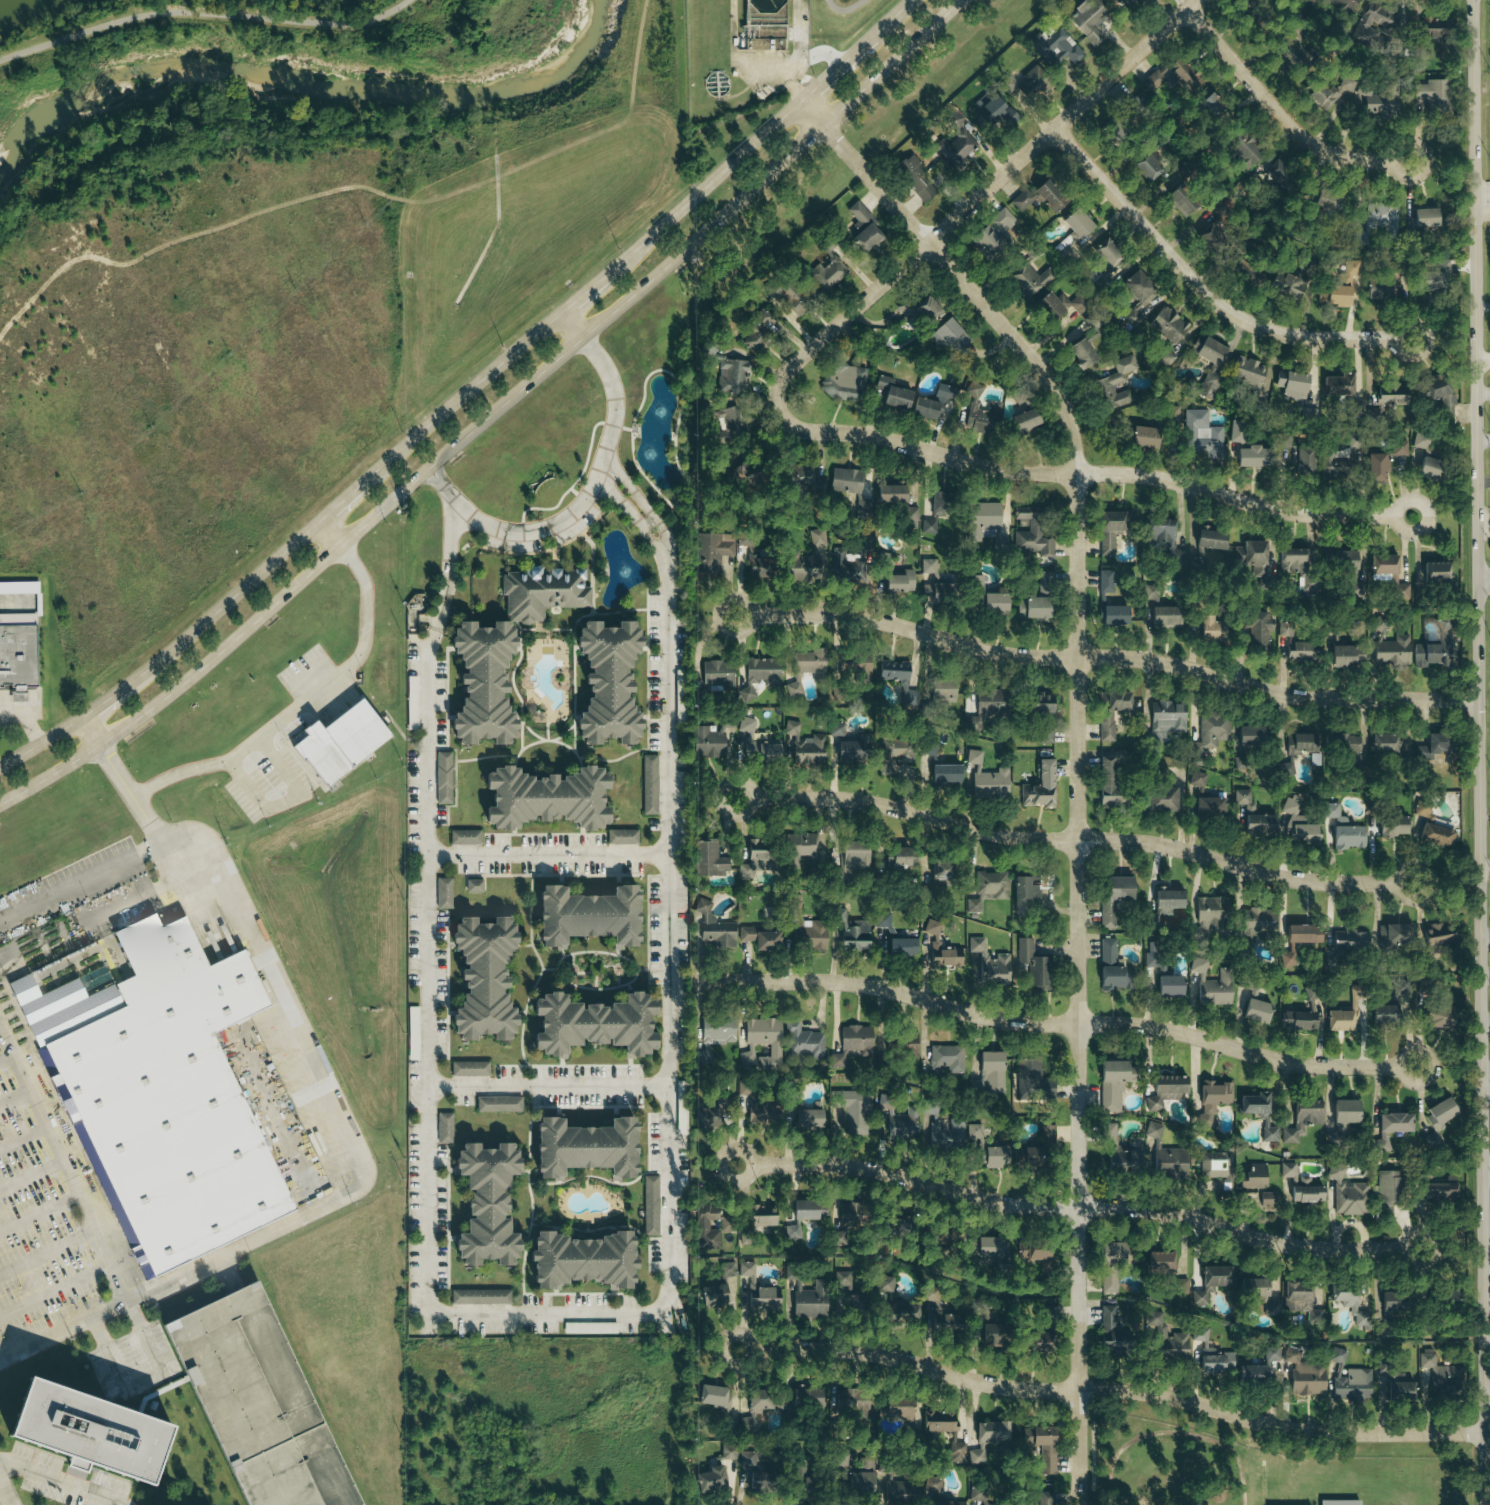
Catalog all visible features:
building: (1313, 1)
building: (1122, 4)
road: (202, 15)
park: (841, 20)
building: (1366, 20)
road: (890, 21)
building: (1086, 21)
building: (1432, 29)
park: (258, 38)
building: (1054, 50)
building: (1291, 50)
road: (777, 64)
road: (833, 71)
building: (1163, 79)
river: (318, 84)
building: (1432, 93)
building: (1322, 96)
building: (992, 98)
building: (1204, 102)
building: (1379, 106)
road: (1281, 116)
building: (954, 147)
building: (1244, 157)
building: (1147, 166)
building: (1189, 170)
building: (1277, 173)
building: (912, 178)
road: (707, 183)
building: (1039, 197)
building: (1178, 201)
building: (1326, 201)
road: (1483, 201)
road: (972, 202)
building: (1379, 218)
building: (1423, 218)
building: (1074, 224)
building: (1211, 226)
building: (861, 229)
building: (993, 233)
building: (1104, 253)
building: (1110, 272)
building: (827, 276)
building: (1432, 276)
building: (1291, 277)
building: (1338, 285)
building: (1378, 288)
building: (1040, 289)
road: (587, 290)
road: (1203, 291)
building: (790, 297)
building: (917, 308)
building: (1133, 309)
building: (756, 328)
building: (944, 334)
building: (1205, 348)
building: (1079, 352)
building: (1164, 358)
road: (1483, 360)
building: (1245, 372)
building: (730, 376)
building: (843, 381)
building: (1115, 383)
building: (1336, 383)
building: (1290, 384)
building: (1207, 385)
road: (1483, 390)
building: (1435, 393)
building: (889, 394)
building: (1388, 394)
building: (924, 408)
road: (489, 413)
building: (726, 419)
building: (1021, 421)
building: (1233, 430)
building: (1136, 432)
building: (1200, 435)
building: (1419, 439)
road: (1484, 442)
building: (1254, 456)
building: (1381, 459)
building: (1318, 463)
building: (1428, 468)
building: (796, 472)
road: (1097, 473)
road: (1484, 477)
road: (586, 491)
building: (889, 493)
road: (346, 497)
building: (934, 510)
building: (910, 518)
building: (987, 521)
road: (1484, 524)
building: (1111, 528)
building: (1030, 532)
road: (326, 535)
building: (1162, 539)
building: (862, 543)
building: (711, 551)
building: (804, 560)
building: (1254, 560)
building: (1292, 560)
building: (1342, 561)
building: (755, 564)
building: (1382, 564)
building: (842, 565)
building: (926, 565)
building: (1434, 571)
road: (1484, 579)
building: (898, 580)
building: (1104, 581)
building: (1044, 582)
building: (18, 587)
building: (1402, 591)
building: (541, 592)
building: (1150, 592)
road: (15, 601)
building: (992, 601)
building: (1032, 608)
building: (1116, 614)
building: (1163, 616)
building: (1205, 628)
building: (1259, 630)
building: (1433, 647)
building: (1301, 650)
building: (1337, 652)
building: (1391, 652)
building: (19, 655)
road: (1107, 656)
building: (809, 662)
building: (891, 670)
building: (762, 671)
building: (715, 675)
building: (478, 683)
building: (602, 684)
building: (939, 689)
building: (989, 701)
road: (300, 702)
building: (1038, 702)
road: (107, 703)
road: (32, 711)
building: (1110, 711)
road: (29, 718)
building: (1164, 719)
building: (745, 724)
building: (835, 729)
building: (1212, 729)
building: (1046, 732)
building: (1248, 735)
building: (709, 738)
building: (333, 741)
building: (1382, 742)
building: (1296, 745)
building: (801, 746)
building: (851, 747)
building: (928, 748)
building: (759, 749)
road: (41, 751)
road: (1077, 752)
road: (1479, 752)
building: (892, 754)
building: (943, 774)
building: (442, 778)
building: (985, 779)
road: (120, 781)
building: (1106, 781)
building: (1195, 783)
building: (648, 784)
building: (1038, 787)
building: (540, 796)
building: (1159, 799)
building: (1421, 808)
building: (1207, 809)
building: (1252, 815)
building: (1297, 824)
building: (1391, 825)
building: (1342, 829)
building: (1434, 835)
building: (621, 836)
building: (464, 837)
road: (1075, 839)
road: (546, 854)
building: (852, 857)
building: (706, 859)
building: (898, 859)
building: (754, 863)
road: (1484, 865)
building: (939, 868)
road: (85, 880)
building: (989, 883)
building: (472, 886)
building: (1027, 890)
building: (442, 893)
building: (1112, 899)
building: (972, 905)
building: (1162, 905)
building: (1210, 915)
building: (579, 916)
building: (1256, 920)
building: (712, 926)
building: (851, 932)
building: (807, 934)
building: (1300, 934)
building: (1437, 934)
building: (1392, 935)
road: (1485, 936)
building: (895, 937)
building: (758, 938)
building: (933, 941)
building: (1348, 941)
building: (1106, 951)
building: (1153, 956)
building: (1286, 956)
building: (988, 960)
building: (1032, 964)
building: (1197, 965)
building: (477, 977)
building: (1114, 978)
building: (1168, 985)
building: (1400, 987)
building: (1212, 988)
building: (1354, 991)
building: (1255, 1011)
building: (1382, 1014)
building: (1437, 1018)
building: (1297, 1020)
building: (1340, 1020)
road: (1056, 1022)
building: (589, 1026)
building: (713, 1035)
building: (801, 1041)
building: (851, 1043)
building: (760, 1044)
building: (908, 1045)
road: (8, 1047)
building: (946, 1058)
building: (468, 1068)
road: (315, 1071)
building: (987, 1074)
building: (1032, 1079)
road: (546, 1085)
building: (1109, 1085)
road: (1486, 1088)
building: (1163, 1091)
building: (1214, 1093)
road: (15, 1097)
building: (170, 1102)
building: (1252, 1102)
building: (497, 1104)
building: (852, 1107)
building: (1344, 1111)
building: (710, 1112)
building: (763, 1112)
building: (805, 1118)
building: (1203, 1119)
building: (1301, 1119)
building: (1393, 1122)
building: (1437, 1123)
building: (900, 1127)
building: (443, 1128)
building: (941, 1129)
building: (1152, 1130)
building: (1267, 1131)
building: (1045, 1133)
road: (24, 1136)
building: (1381, 1141)
building: (578, 1146)
building: (1119, 1152)
building: (1024, 1155)
building: (994, 1156)
building: (1169, 1163)
building: (1214, 1165)
road: (1486, 1165)
building: (1287, 1169)
road: (31, 1172)
building: (1251, 1177)
building: (1439, 1188)
building: (1303, 1190)
building: (1388, 1193)
building: (1347, 1194)
building: (1261, 1200)
building: (483, 1202)
building: (649, 1205)
road: (1067, 1206)
road: (40, 1213)
building: (801, 1215)
building: (847, 1215)
building: (758, 1218)
building: (710, 1225)
building: (938, 1238)
road: (1430, 1239)
road: (105, 1243)
building: (981, 1247)
road: (49, 1251)
building: (1114, 1253)
building: (1036, 1256)
building: (578, 1259)
building: (1159, 1262)
road: (191, 1269)
building: (1210, 1282)
building: (1107, 1283)
building: (884, 1284)
building: (845, 1285)
road: (56, 1286)
building: (1179, 1286)
building: (756, 1290)
building: (1258, 1294)
building: (711, 1295)
building: (479, 1297)
building: (810, 1300)
building: (1300, 1301)
building: (1391, 1301)
building: (1350, 1305)
road: (575, 1308)
building: (1043, 1311)
building: (902, 1313)
building: (948, 1324)
building: (1109, 1332)
building: (996, 1334)
building: (1198, 1334)
building: (1165, 1338)
building: (1034, 1342)
building: (1270, 1354)
building: (1335, 1355)
building: (1223, 1363)
building: (1303, 1374)
building: (1250, 1375)
building: (1441, 1377)
road: (144, 1382)
building: (1351, 1386)
building: (1399, 1388)
road: (1111, 1389)
building: (711, 1396)
building: (804, 1398)
building: (763, 1401)
building: (259, 1403)
parking garage: (259, 1403)
building: (891, 1407)
building: (851, 1408)
building: (940, 1420)
building: (993, 1429)
building: (90, 1430)
building: (1043, 1443)
building: (728, 1453)
building: (955, 1453)
building: (745, 1458)
building: (864, 1465)
building: (709, 1479)
building: (850, 1479)
road: (64, 1482)
building: (754, 1484)
building: (800, 1484)
road: (5, 1493)
building: (1044, 1498)
building: (1337, 1503)

